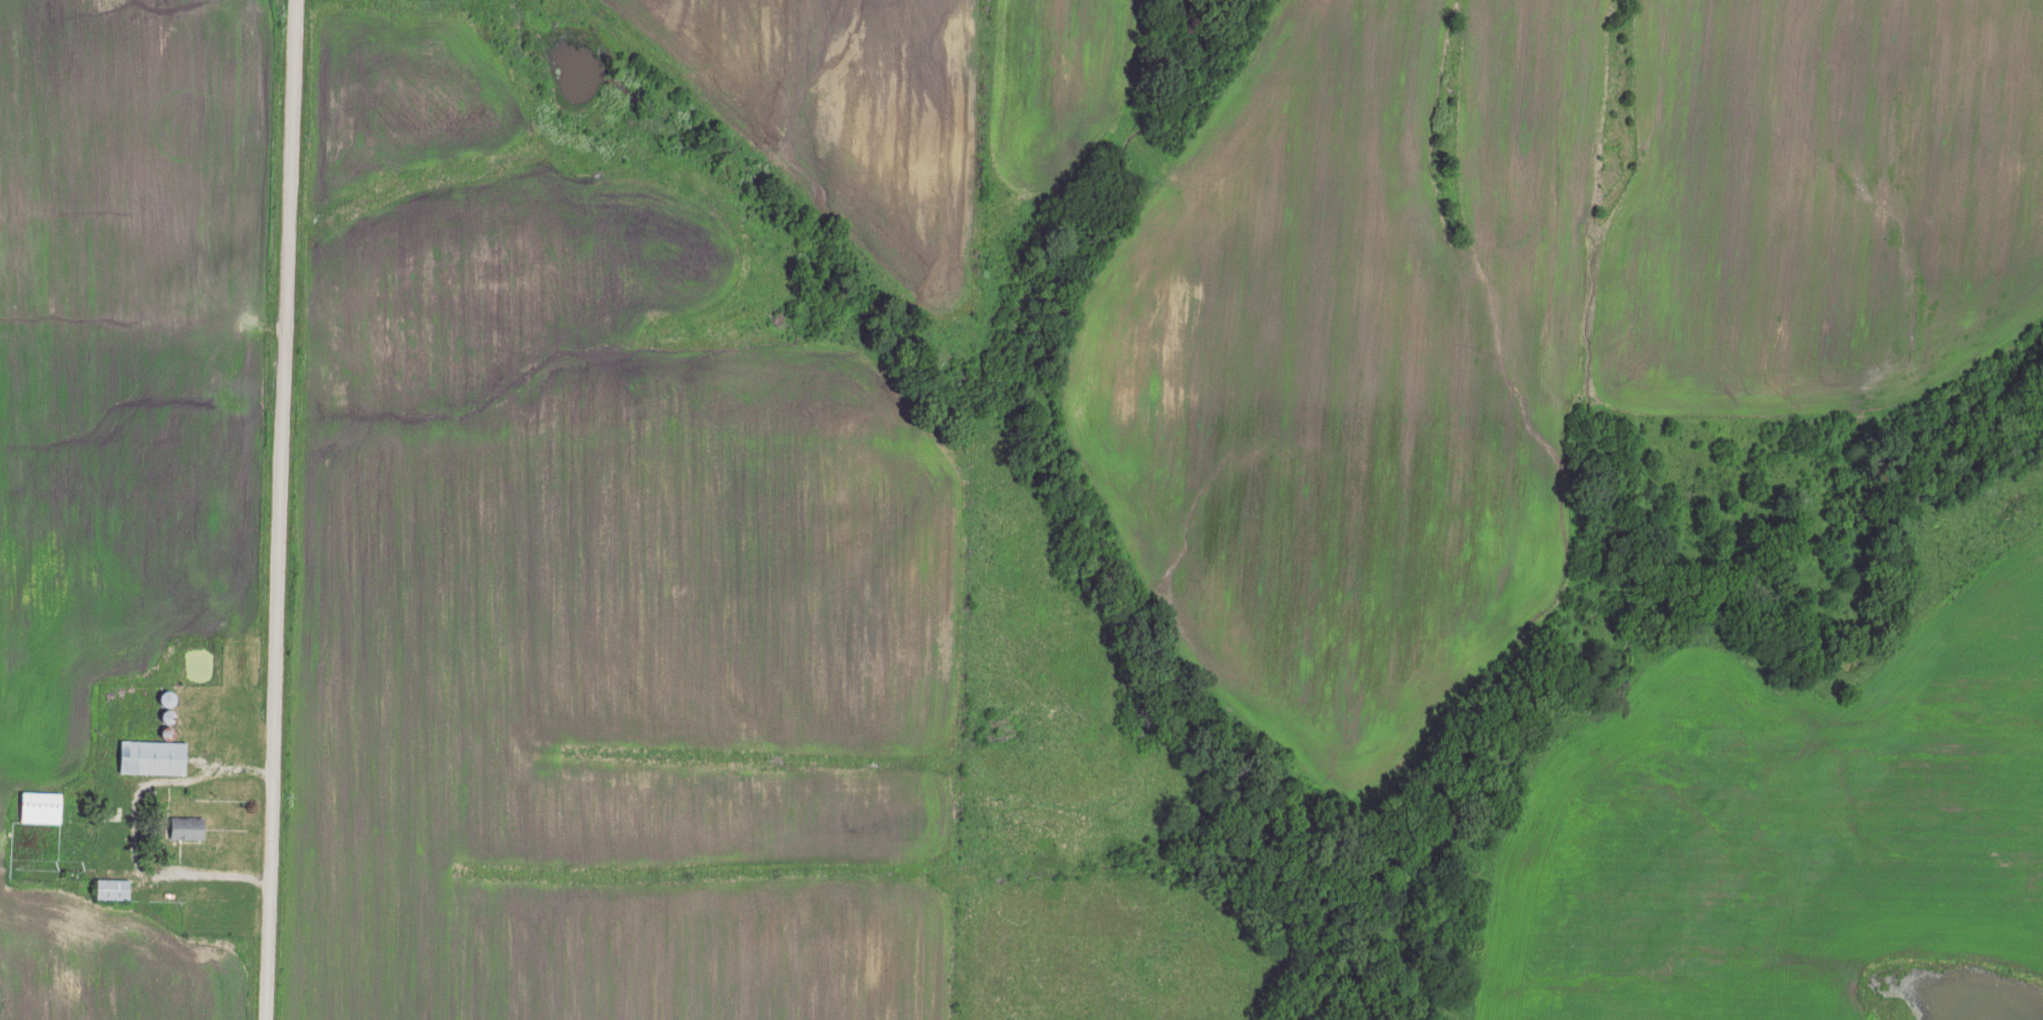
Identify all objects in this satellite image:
road: (276, 509)
building: (147, 759)
building: (35, 810)
building: (180, 830)
road: (201, 875)
building: (106, 891)

